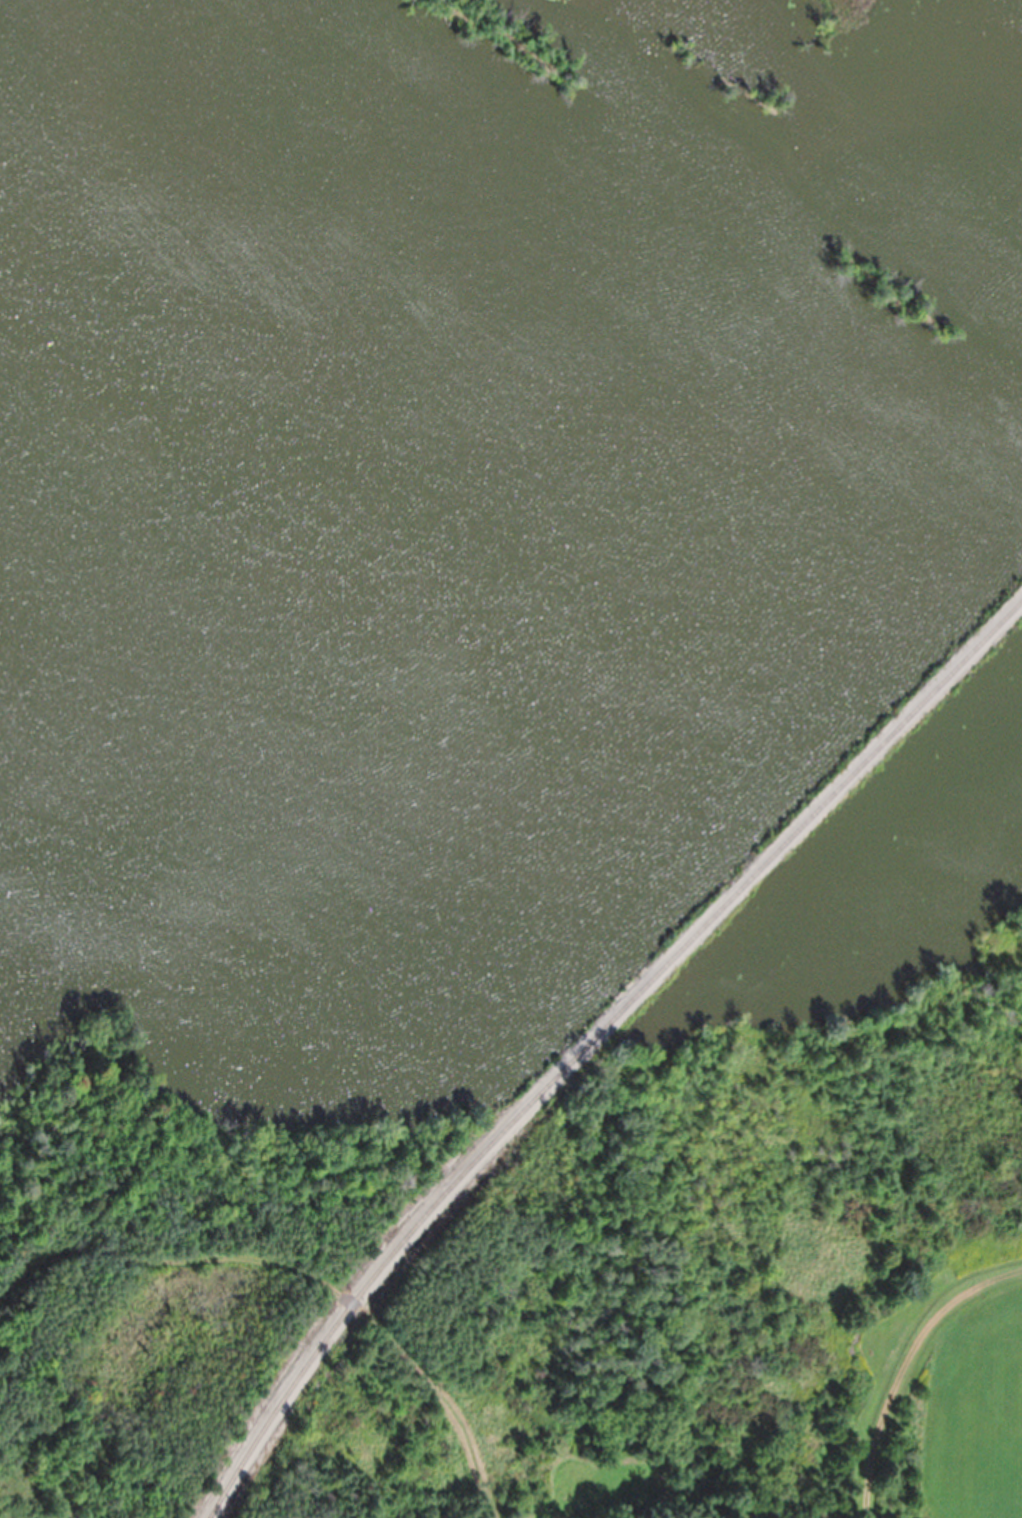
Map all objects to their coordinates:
river: (661, 85)
river: (909, 234)
railway: (588, 1041)
road: (301, 1273)

